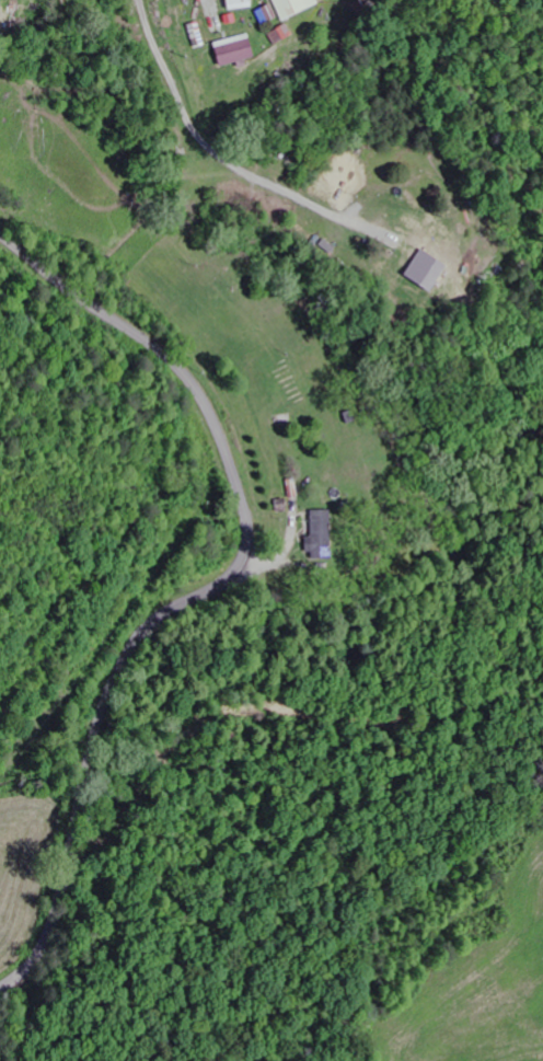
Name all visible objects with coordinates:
building: (292, 7)
road: (20, 14)
building: (265, 15)
building: (279, 35)
building: (231, 51)
road: (203, 139)
building: (426, 275)
building: (317, 535)
road: (216, 590)

